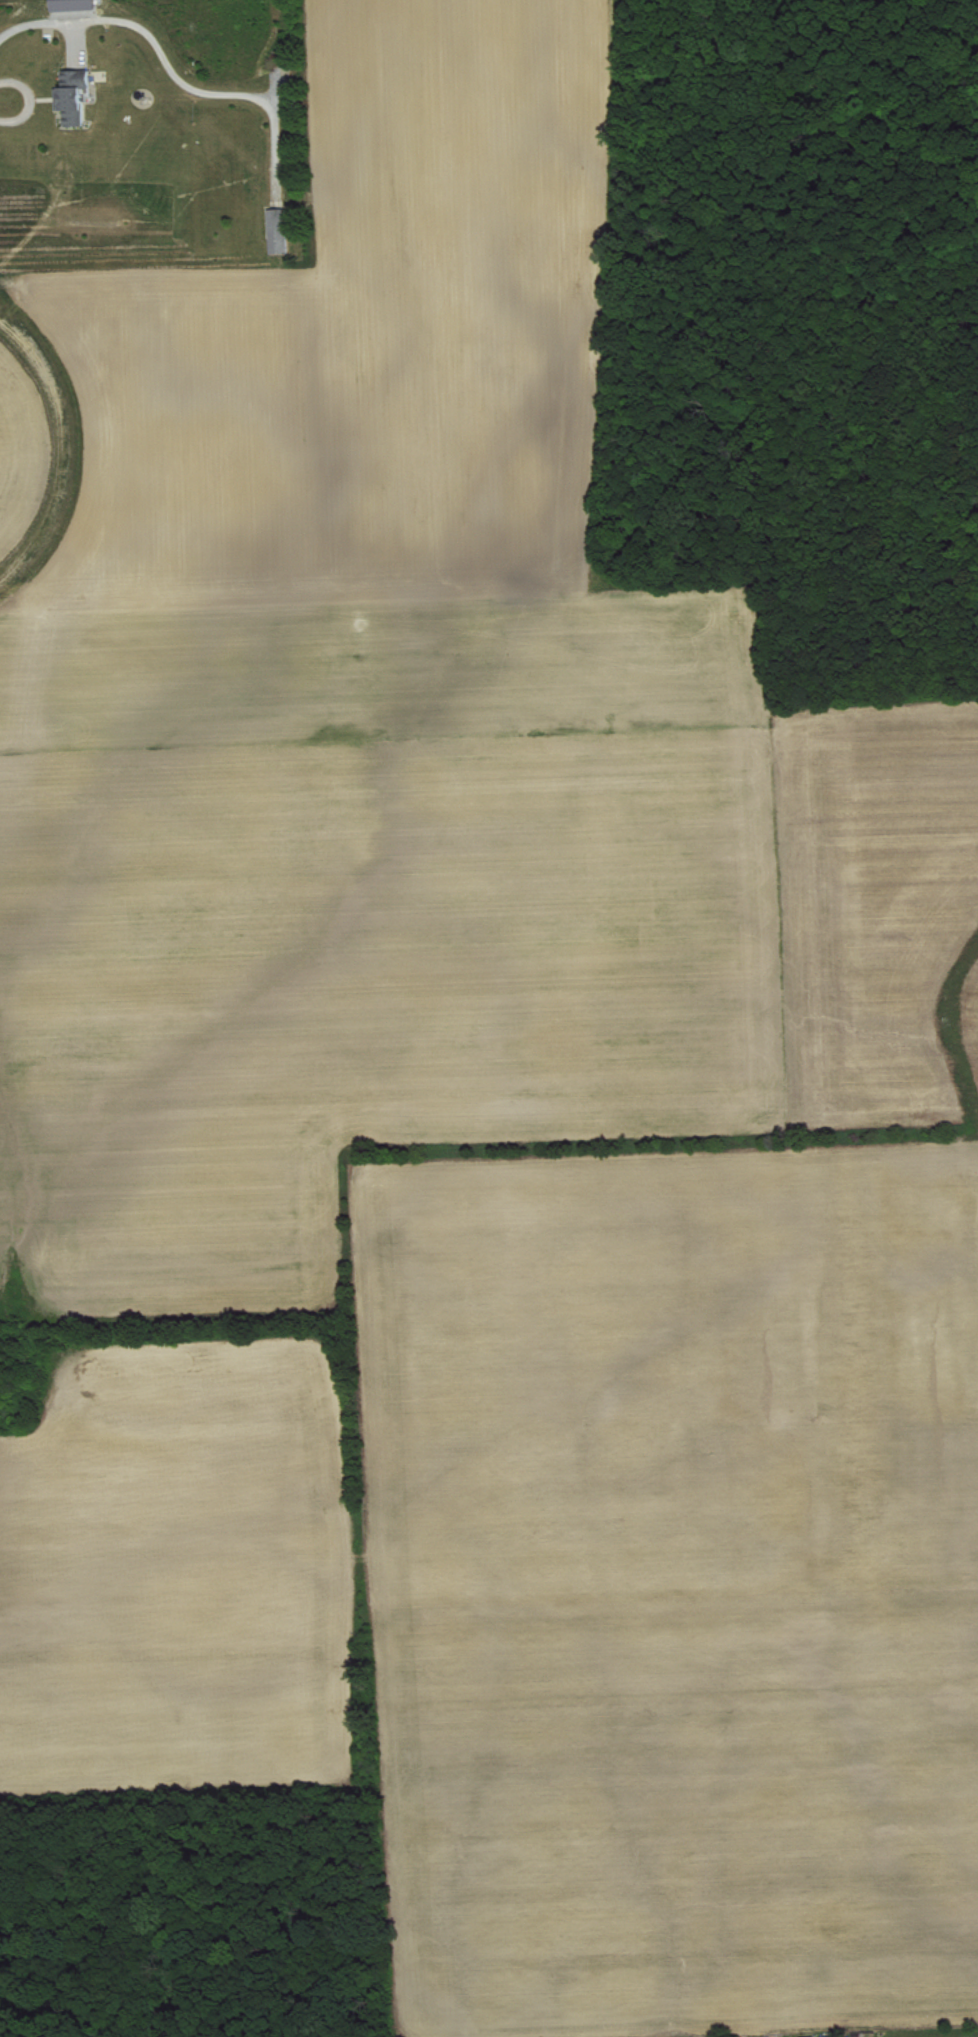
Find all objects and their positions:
building: (81, 5)
road: (168, 70)
building: (81, 97)
building: (285, 232)
building: (828, 2035)
building: (813, 2036)

